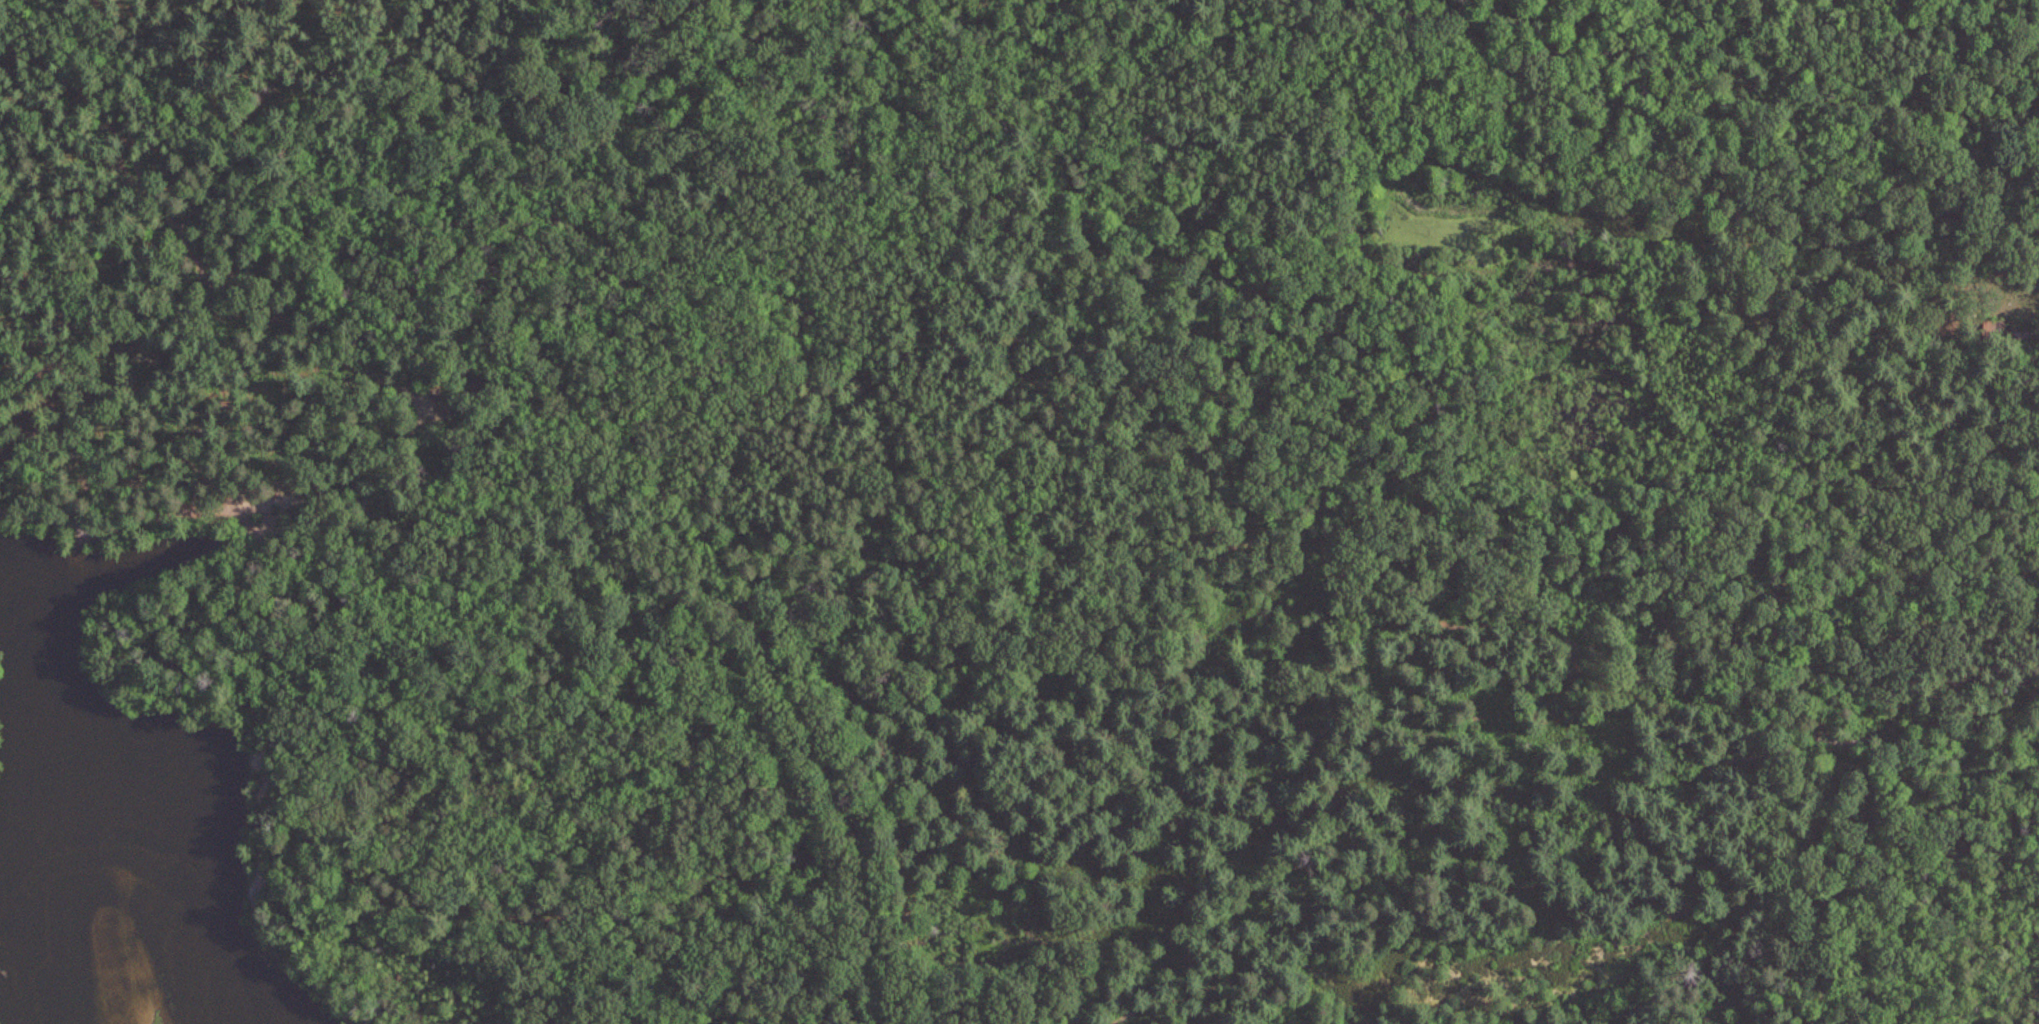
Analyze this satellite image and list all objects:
building: (2004, 332)

